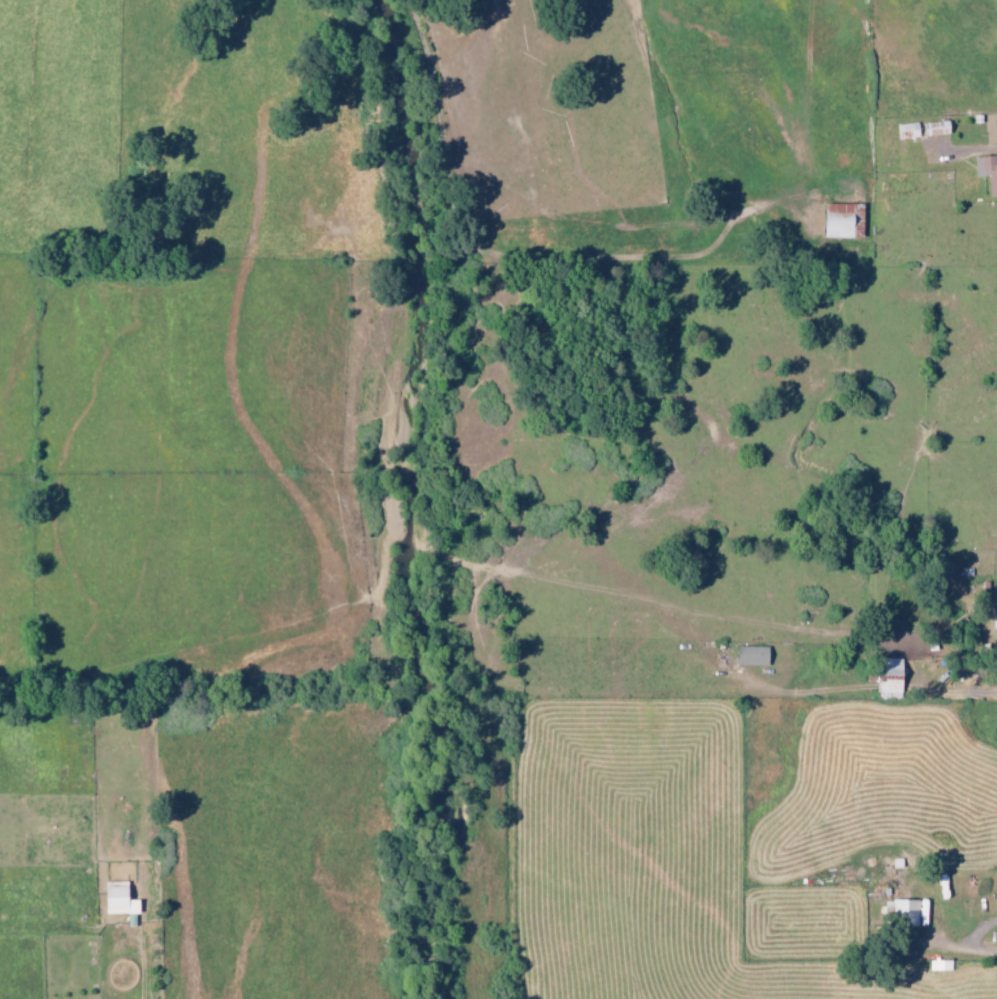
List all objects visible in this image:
building: (937, 128)
building: (908, 131)
building: (988, 171)
building: (845, 221)
building: (995, 624)
building: (754, 656)
building: (891, 679)
building: (941, 965)

